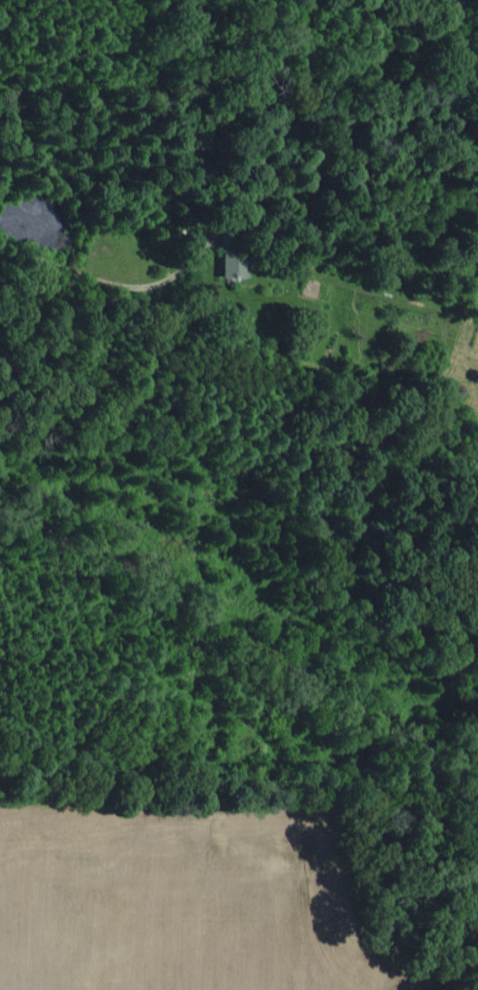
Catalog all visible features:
building: (229, 264)
building: (477, 270)

